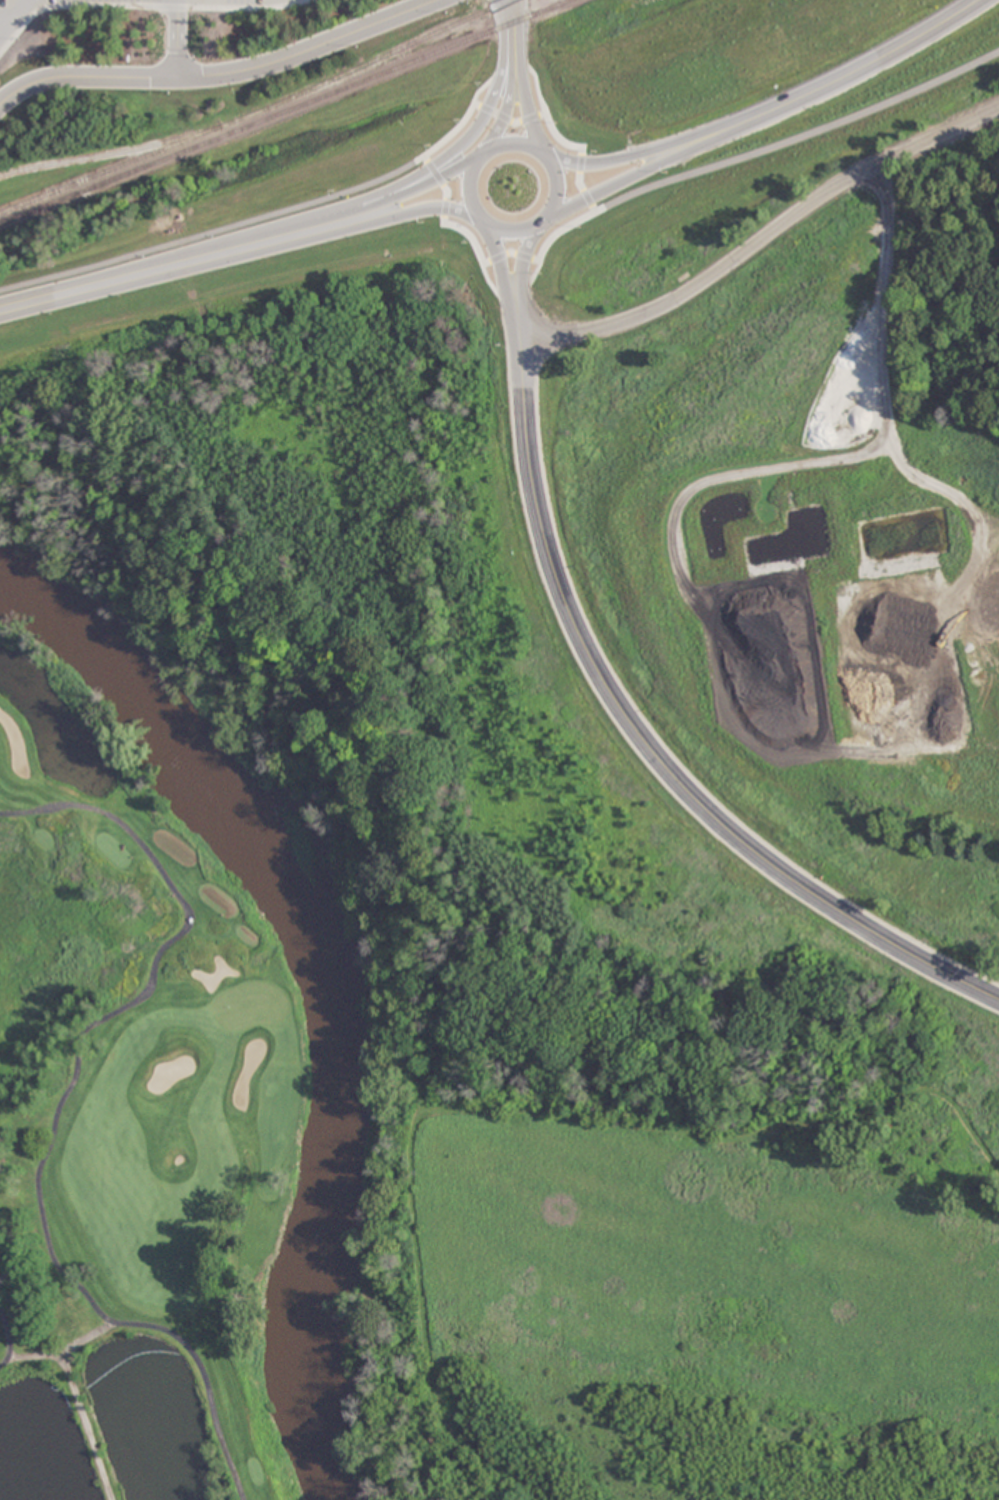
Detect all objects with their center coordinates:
parking lot: (244, 1)
road: (12, 12)
road: (4, 16)
parking lot: (11, 20)
road: (928, 28)
road: (176, 38)
road: (17, 64)
road: (217, 71)
road: (519, 73)
road: (507, 75)
road: (536, 79)
road: (484, 84)
railway: (257, 110)
railway: (282, 112)
road: (509, 119)
road: (712, 119)
road: (710, 135)
road: (501, 142)
road: (761, 145)
road: (449, 151)
road: (581, 151)
railway: (110, 153)
road: (366, 200)
road: (444, 214)
road: (250, 216)
road: (360, 221)
road: (768, 244)
road: (511, 250)
road: (522, 274)
road: (122, 275)
road: (505, 275)
road: (532, 276)
road: (496, 292)
road: (645, 740)
park: (418, 971)
river: (321, 978)
park: (251, 1006)
road: (52, 1107)
road: (1, 1248)
road: (3, 1332)

